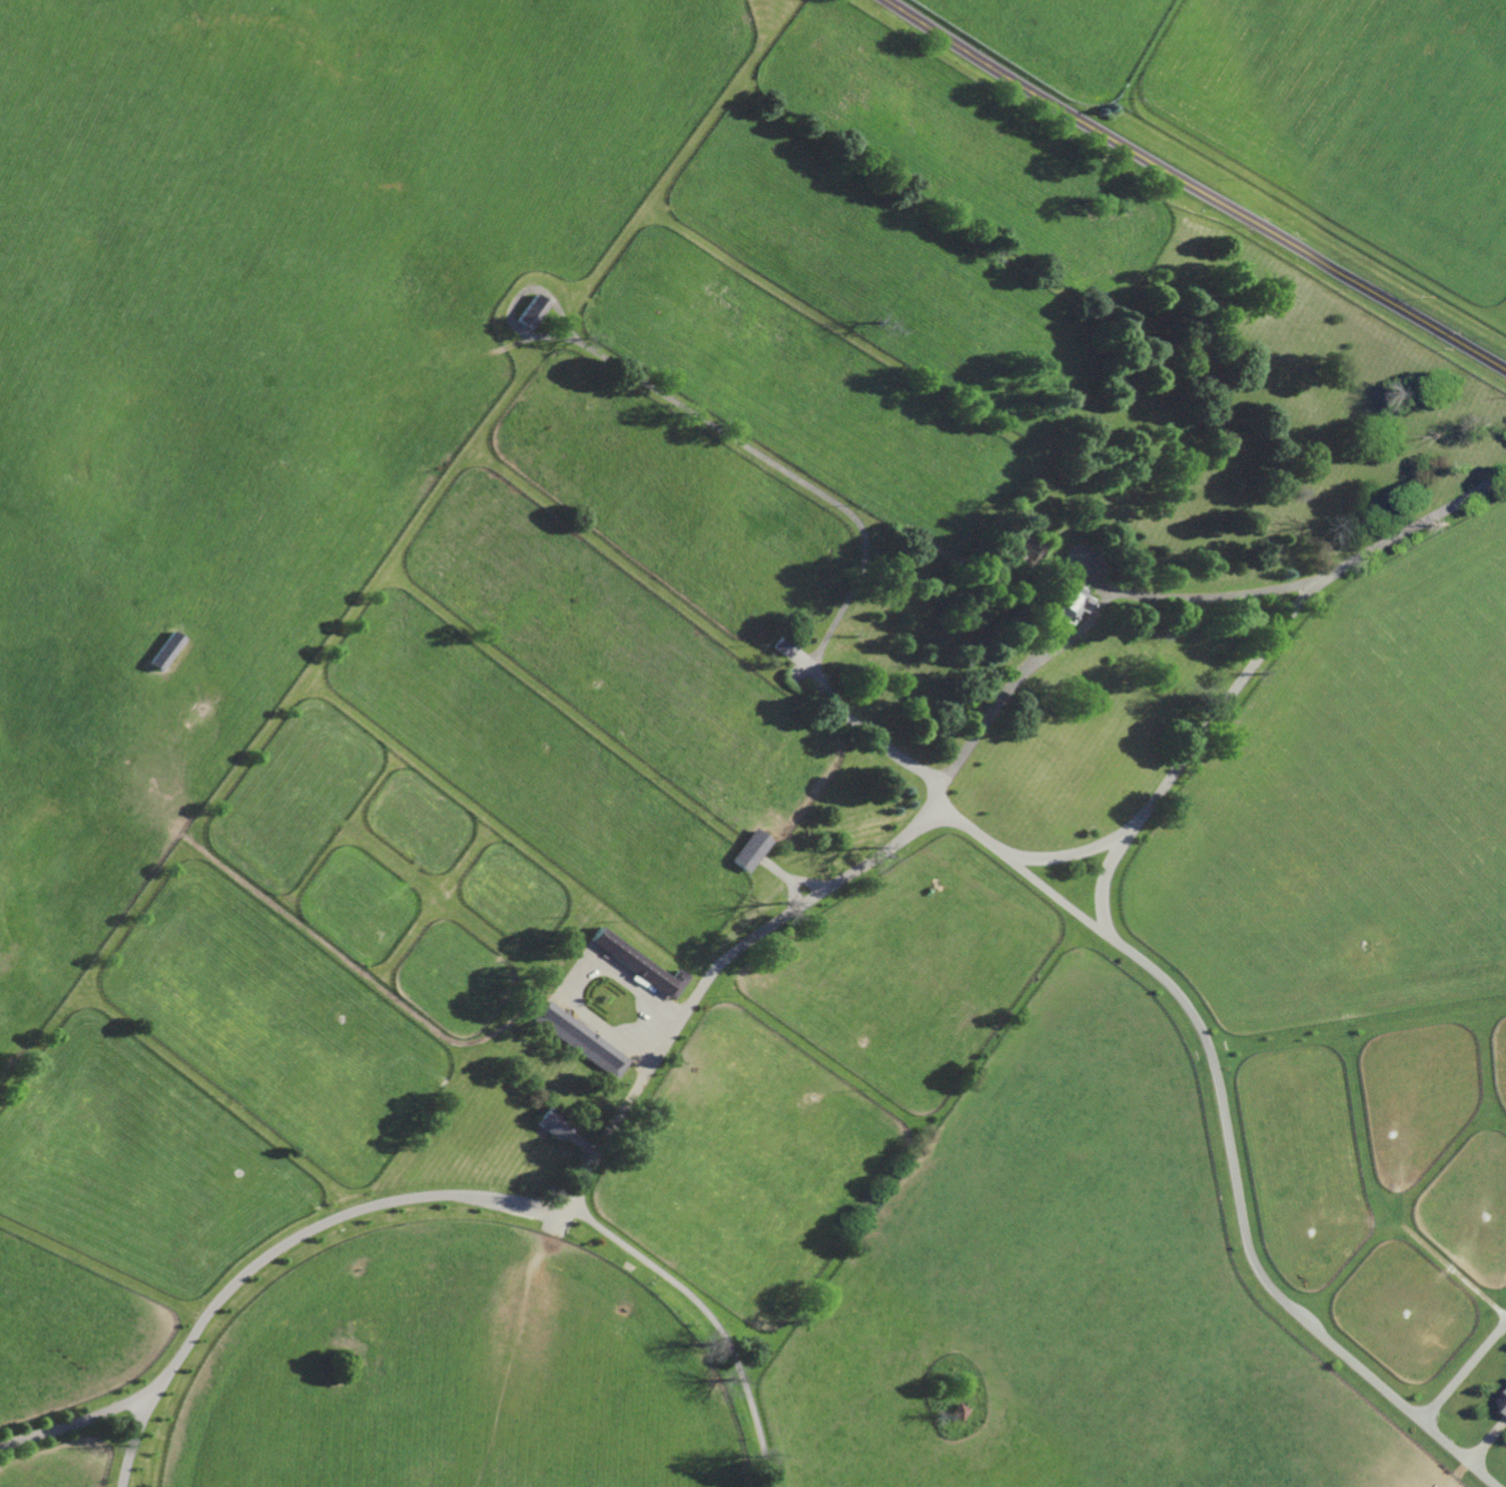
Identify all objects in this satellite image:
road: (1194, 188)
building: (531, 311)
road: (856, 521)
road: (1410, 528)
building: (995, 565)
building: (1011, 588)
building: (1060, 604)
building: (943, 618)
building: (782, 645)
building: (164, 652)
road: (948, 815)
building: (750, 848)
road: (1106, 882)
building: (640, 963)
building: (581, 1039)
building: (553, 1122)
road: (1233, 1178)
road: (549, 1211)
road: (709, 1314)
road: (1464, 1371)
building: (1503, 1399)
building: (957, 1411)
road: (81, 1422)

